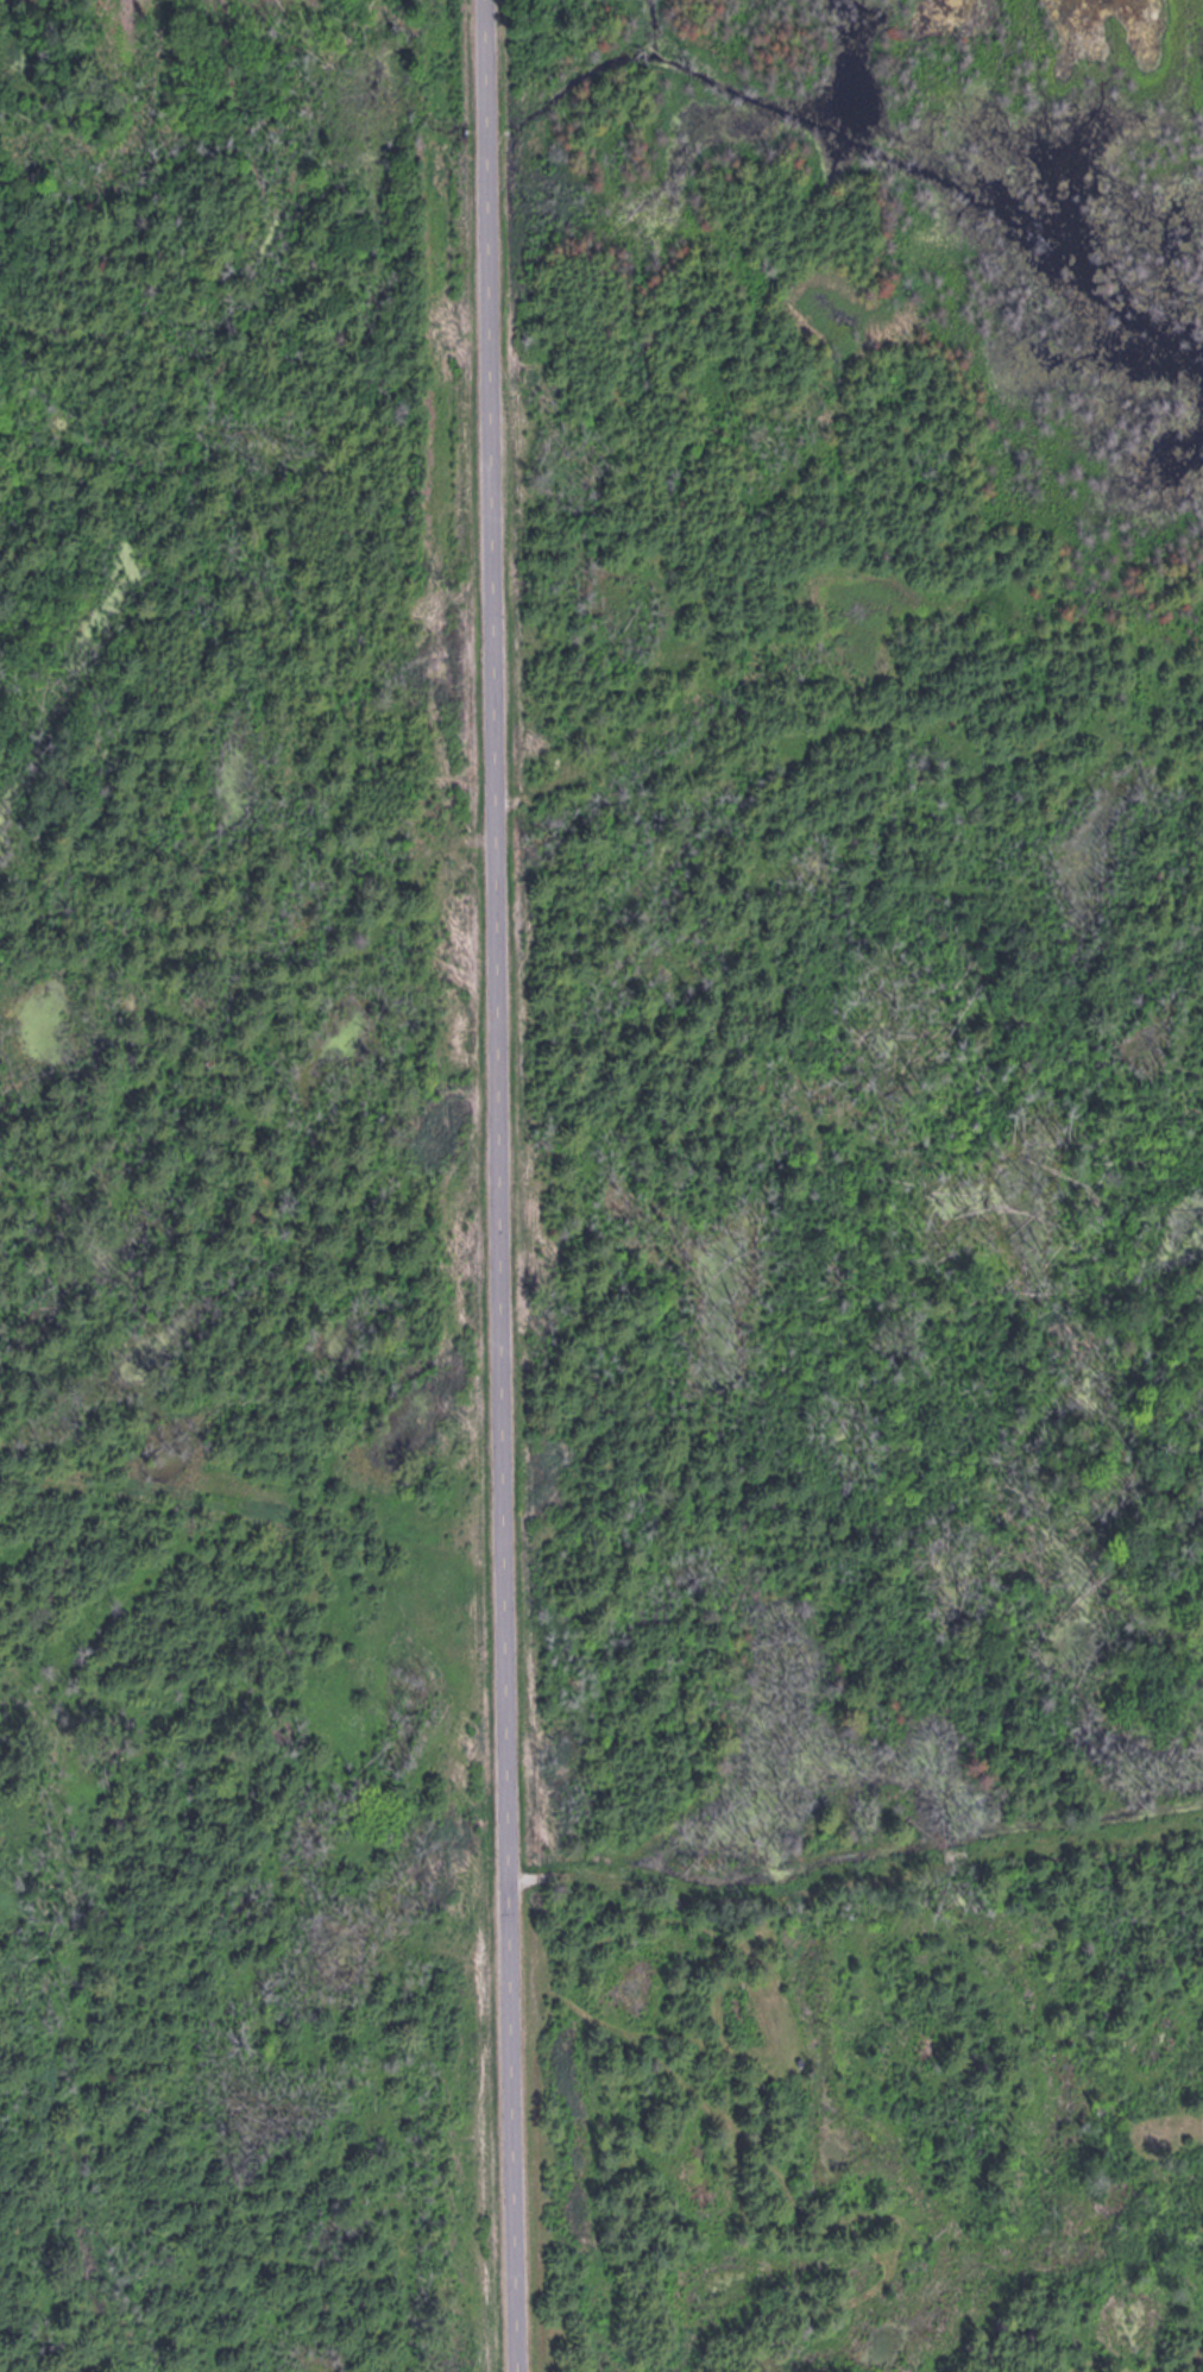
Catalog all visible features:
road: (502, 1185)

